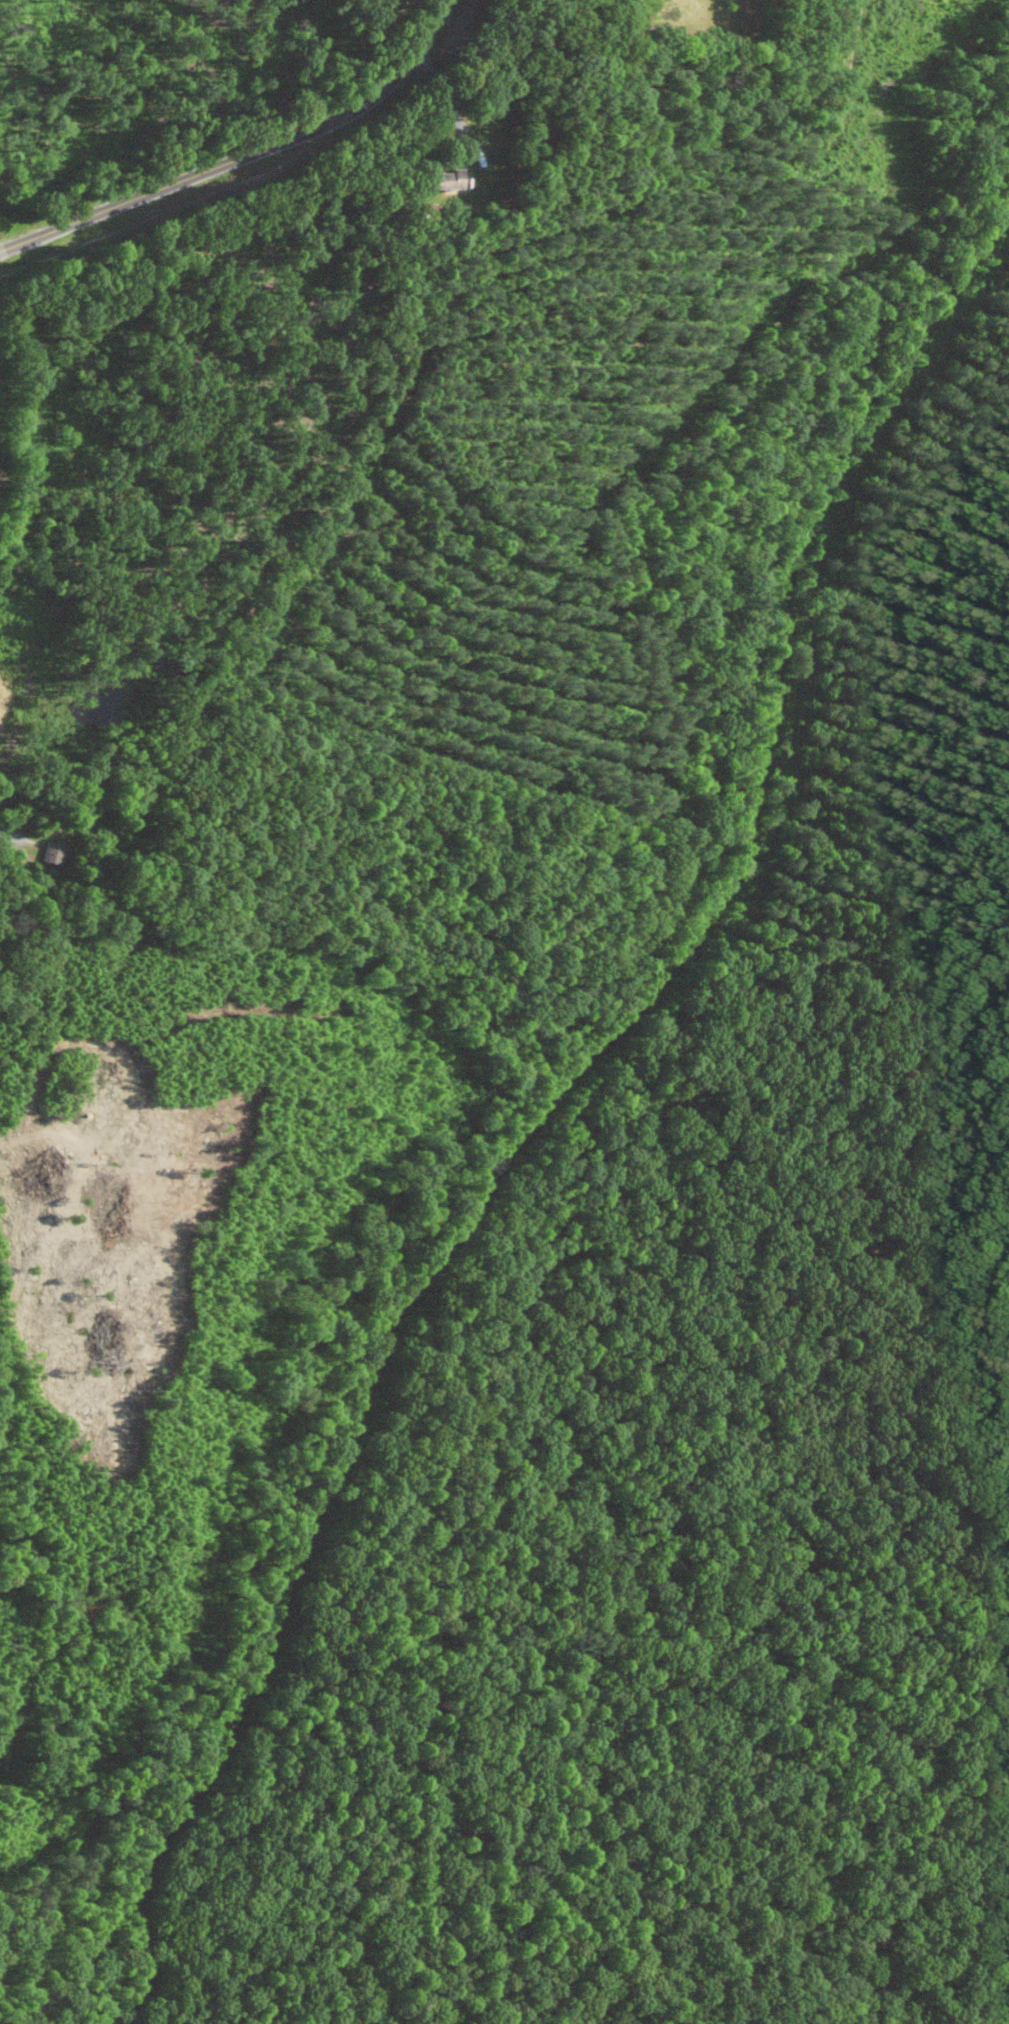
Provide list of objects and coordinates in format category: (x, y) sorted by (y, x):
road: (441, 89)
road: (247, 157)

